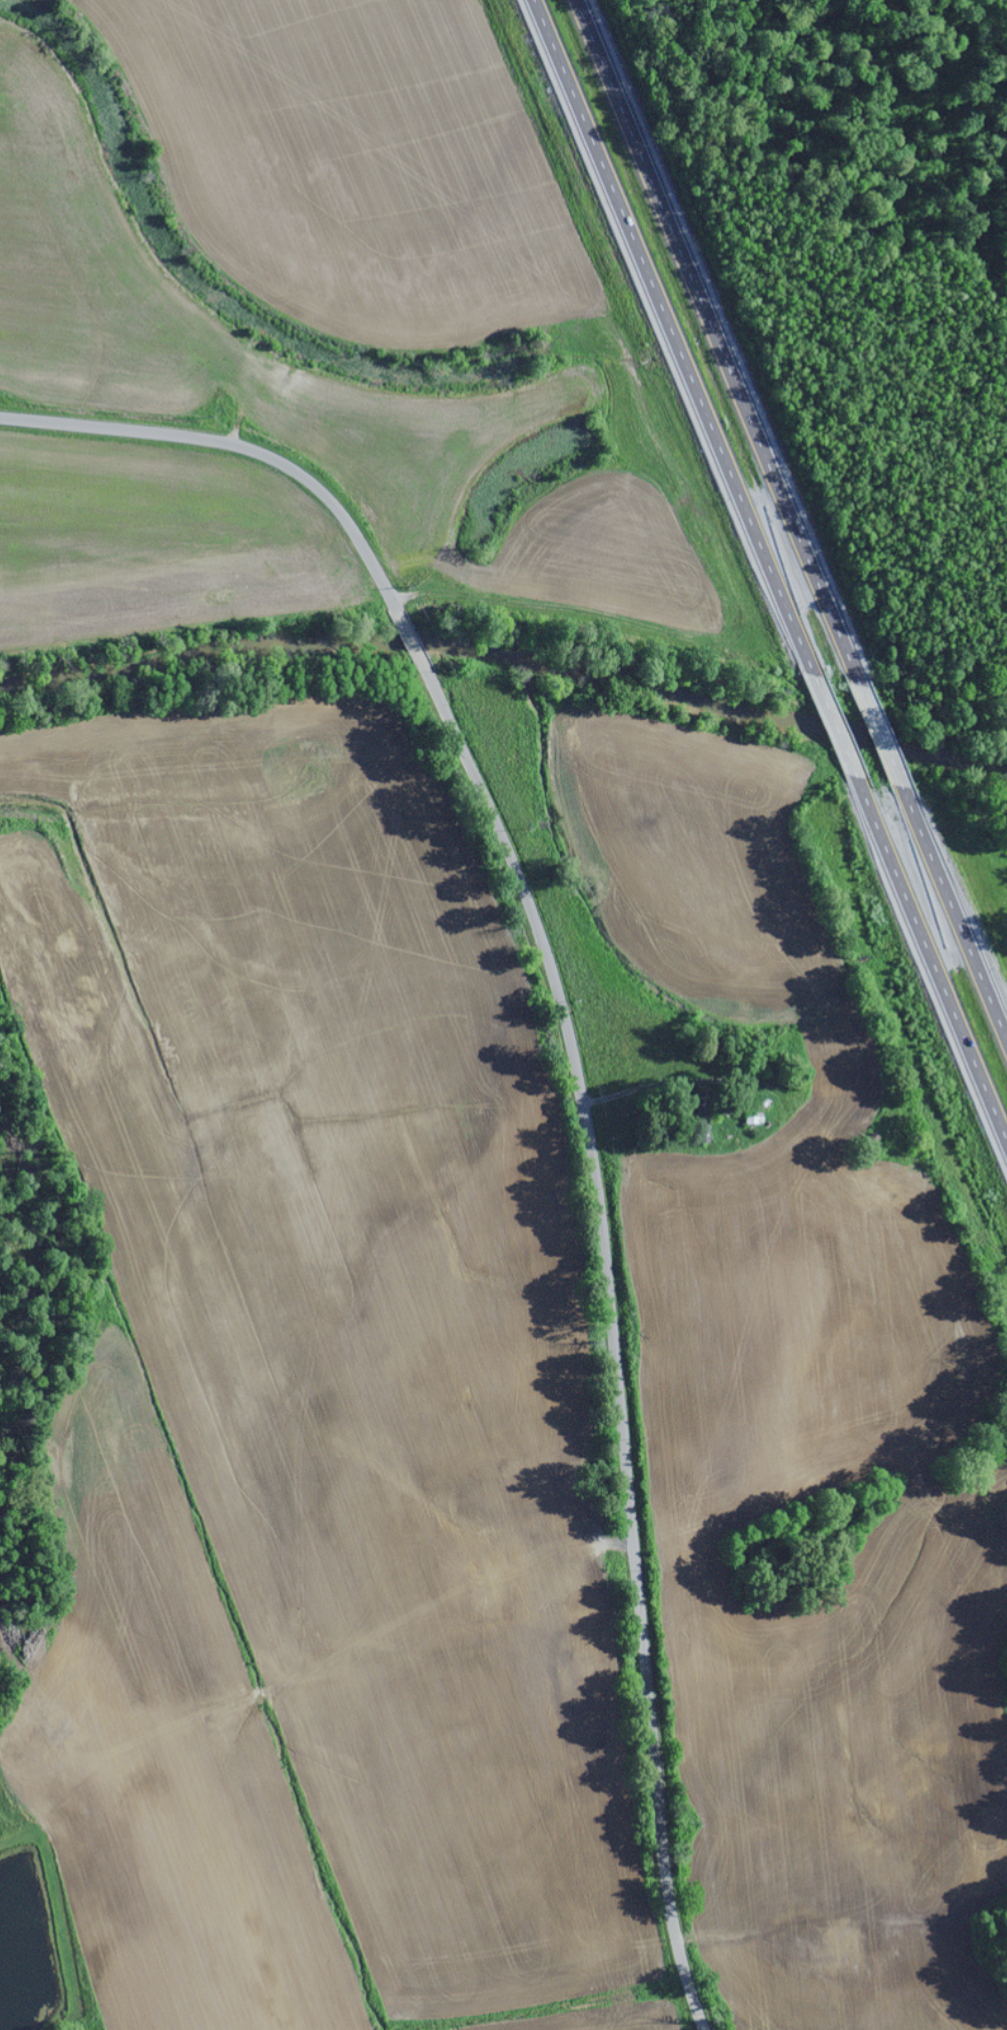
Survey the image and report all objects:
road: (669, 329)
road: (717, 332)
road: (547, 602)
road: (949, 665)
road: (833, 723)
road: (878, 731)
road: (955, 919)
road: (933, 966)
road: (575, 1071)

